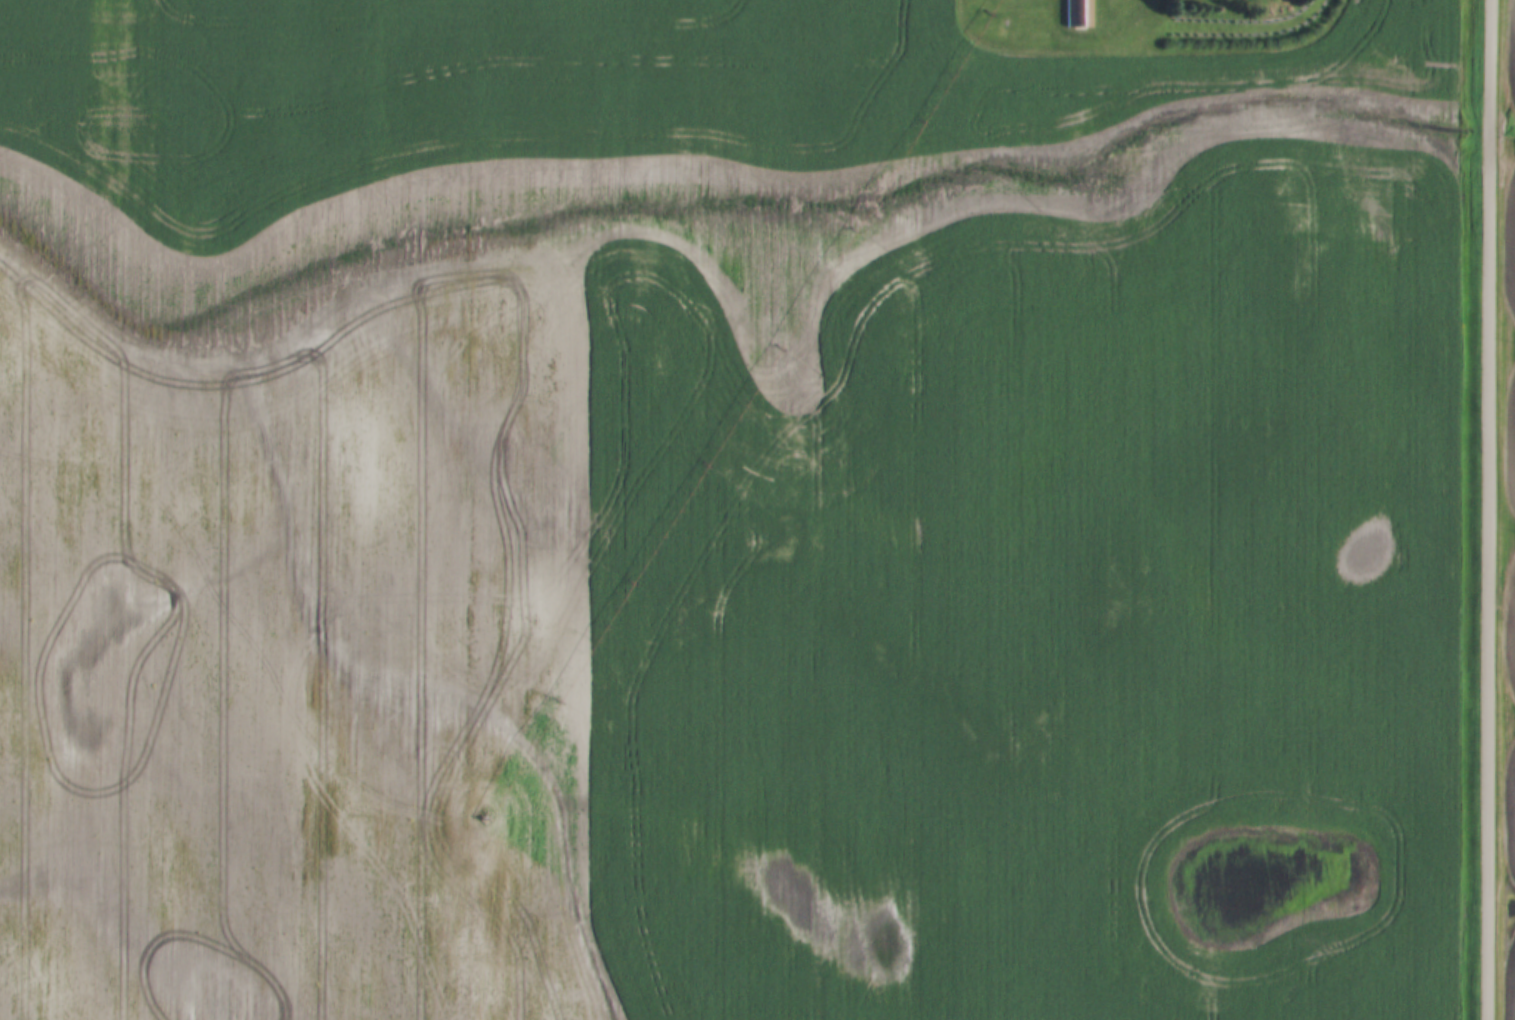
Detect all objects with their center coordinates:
building: (1078, 12)
road: (1487, 509)

